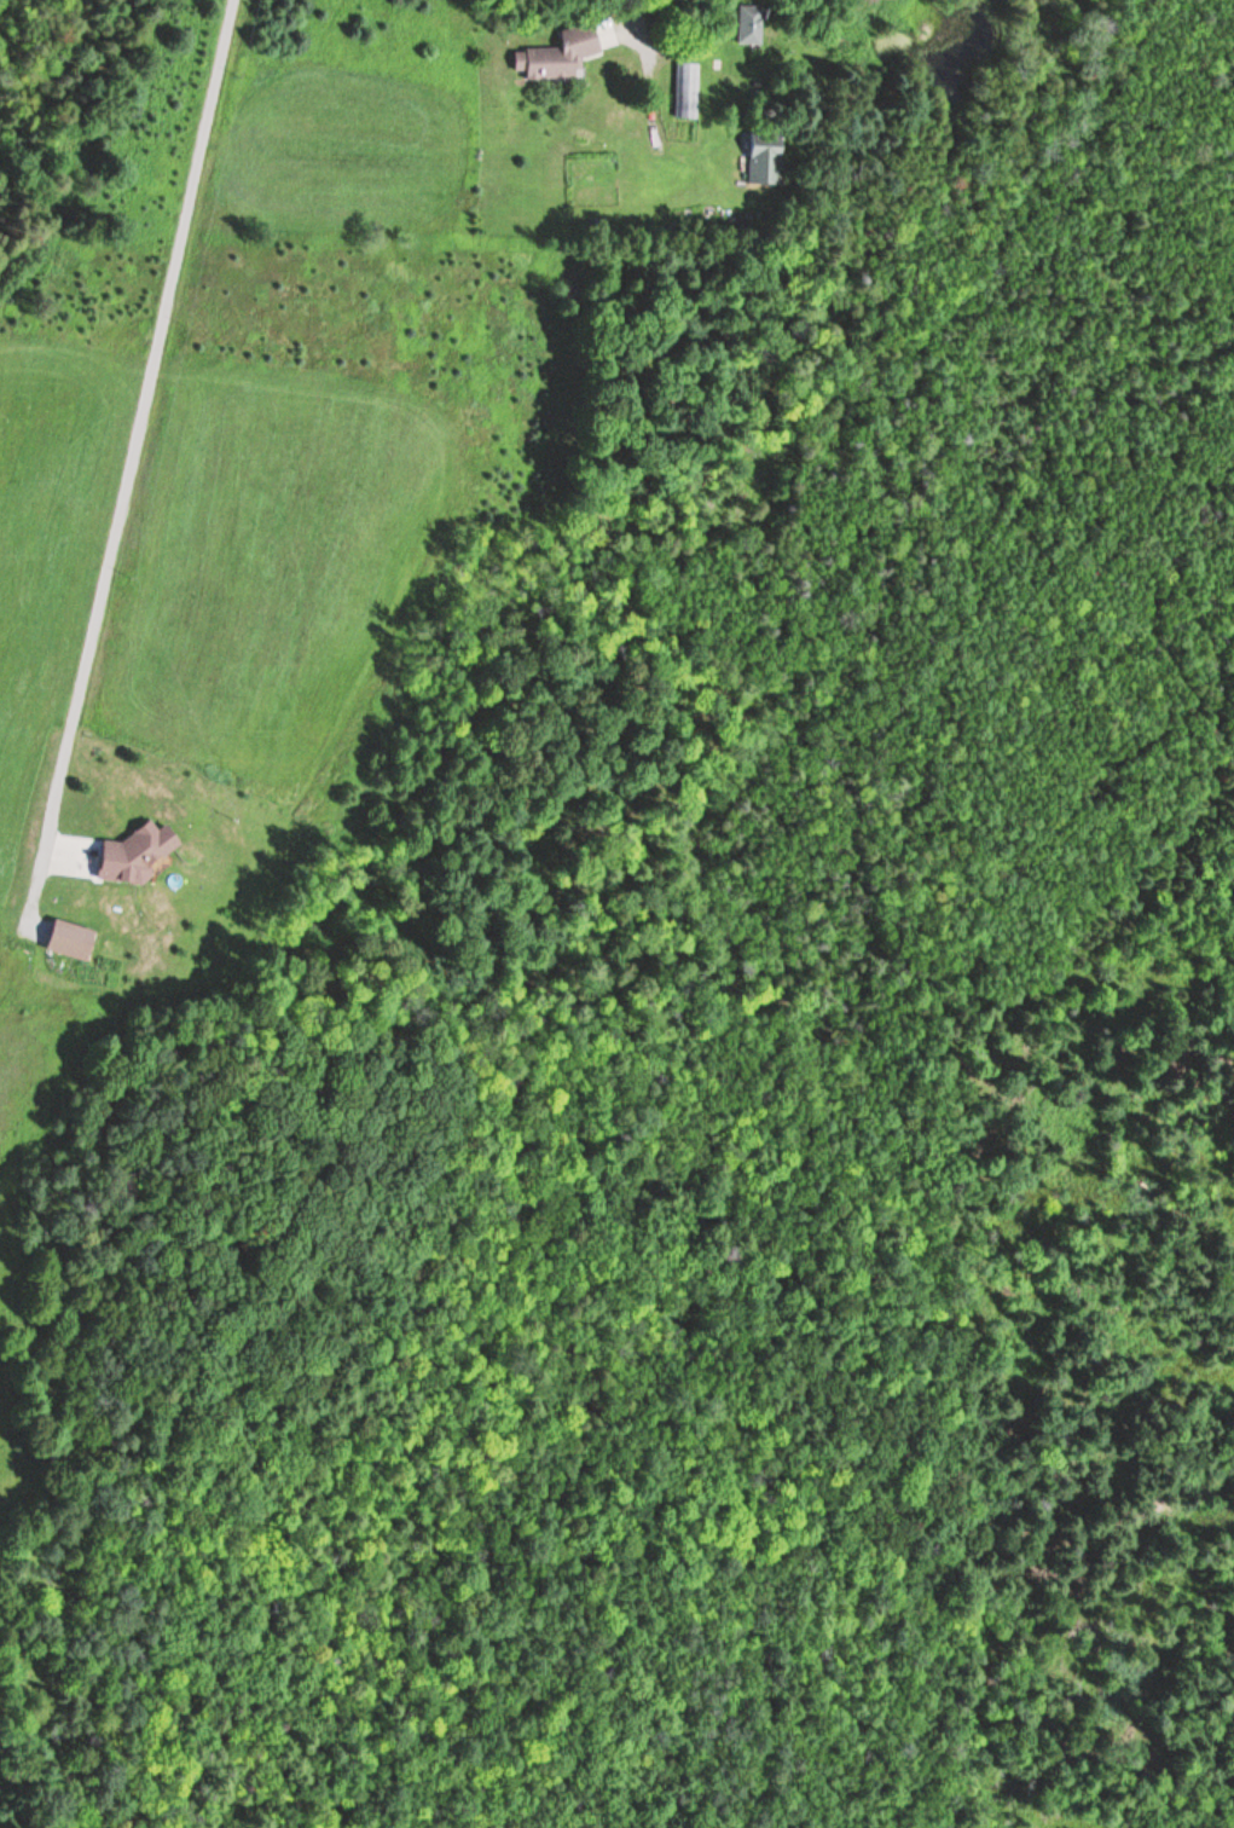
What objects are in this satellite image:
building: (748, 24)
building: (556, 56)
building: (688, 91)
building: (763, 157)
building: (131, 854)
building: (68, 941)

